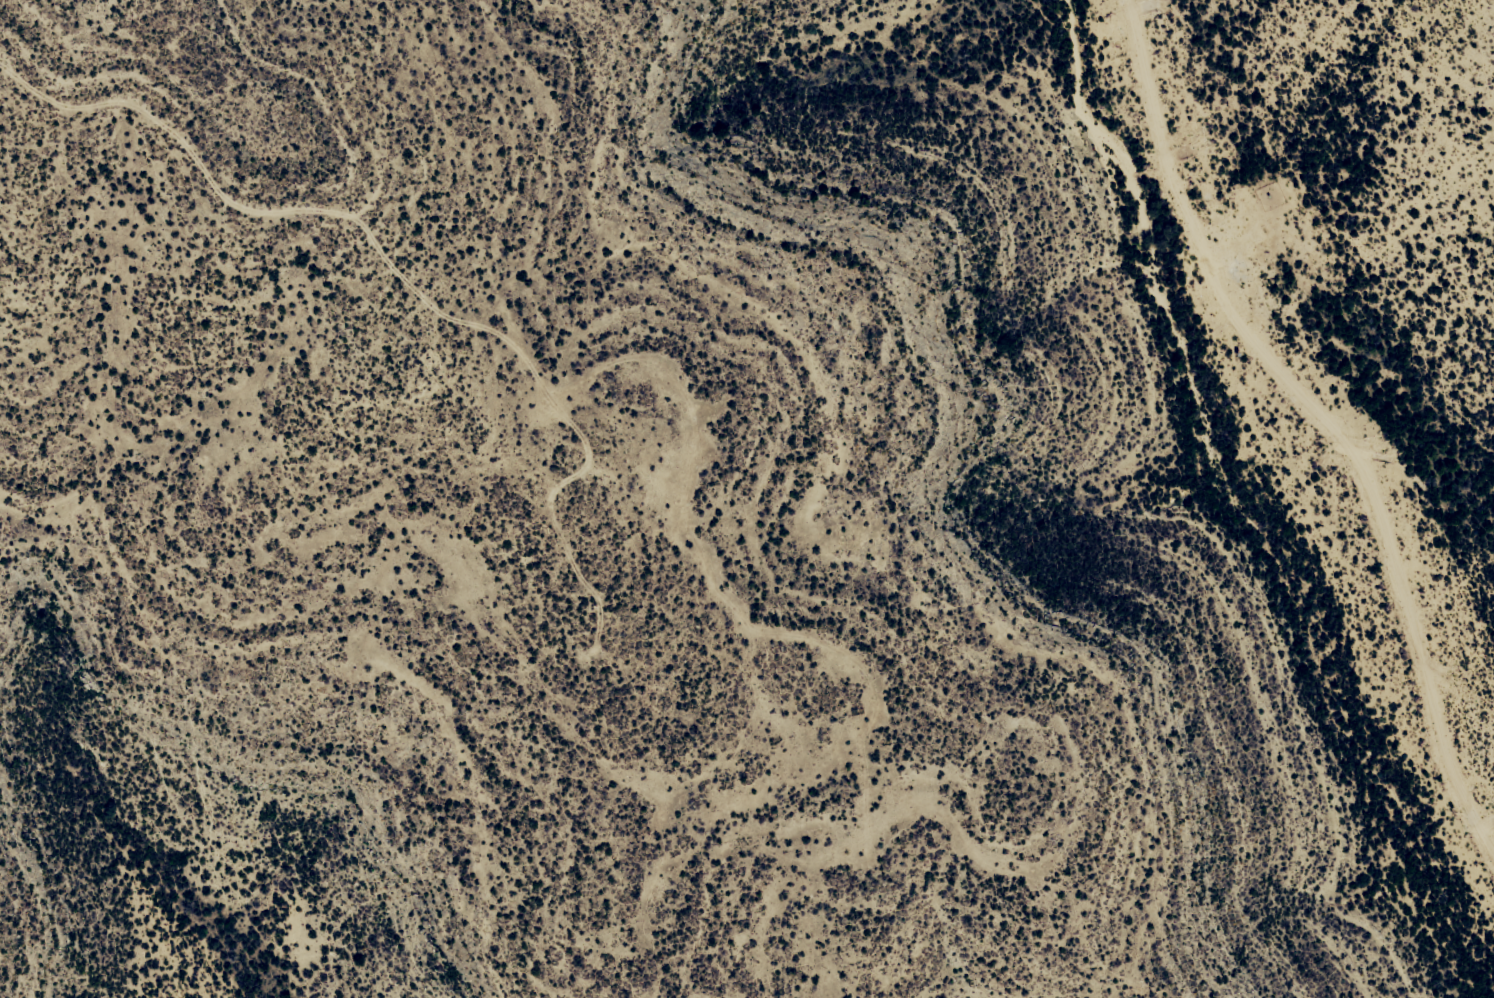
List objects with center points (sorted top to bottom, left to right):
road: (1307, 409)

